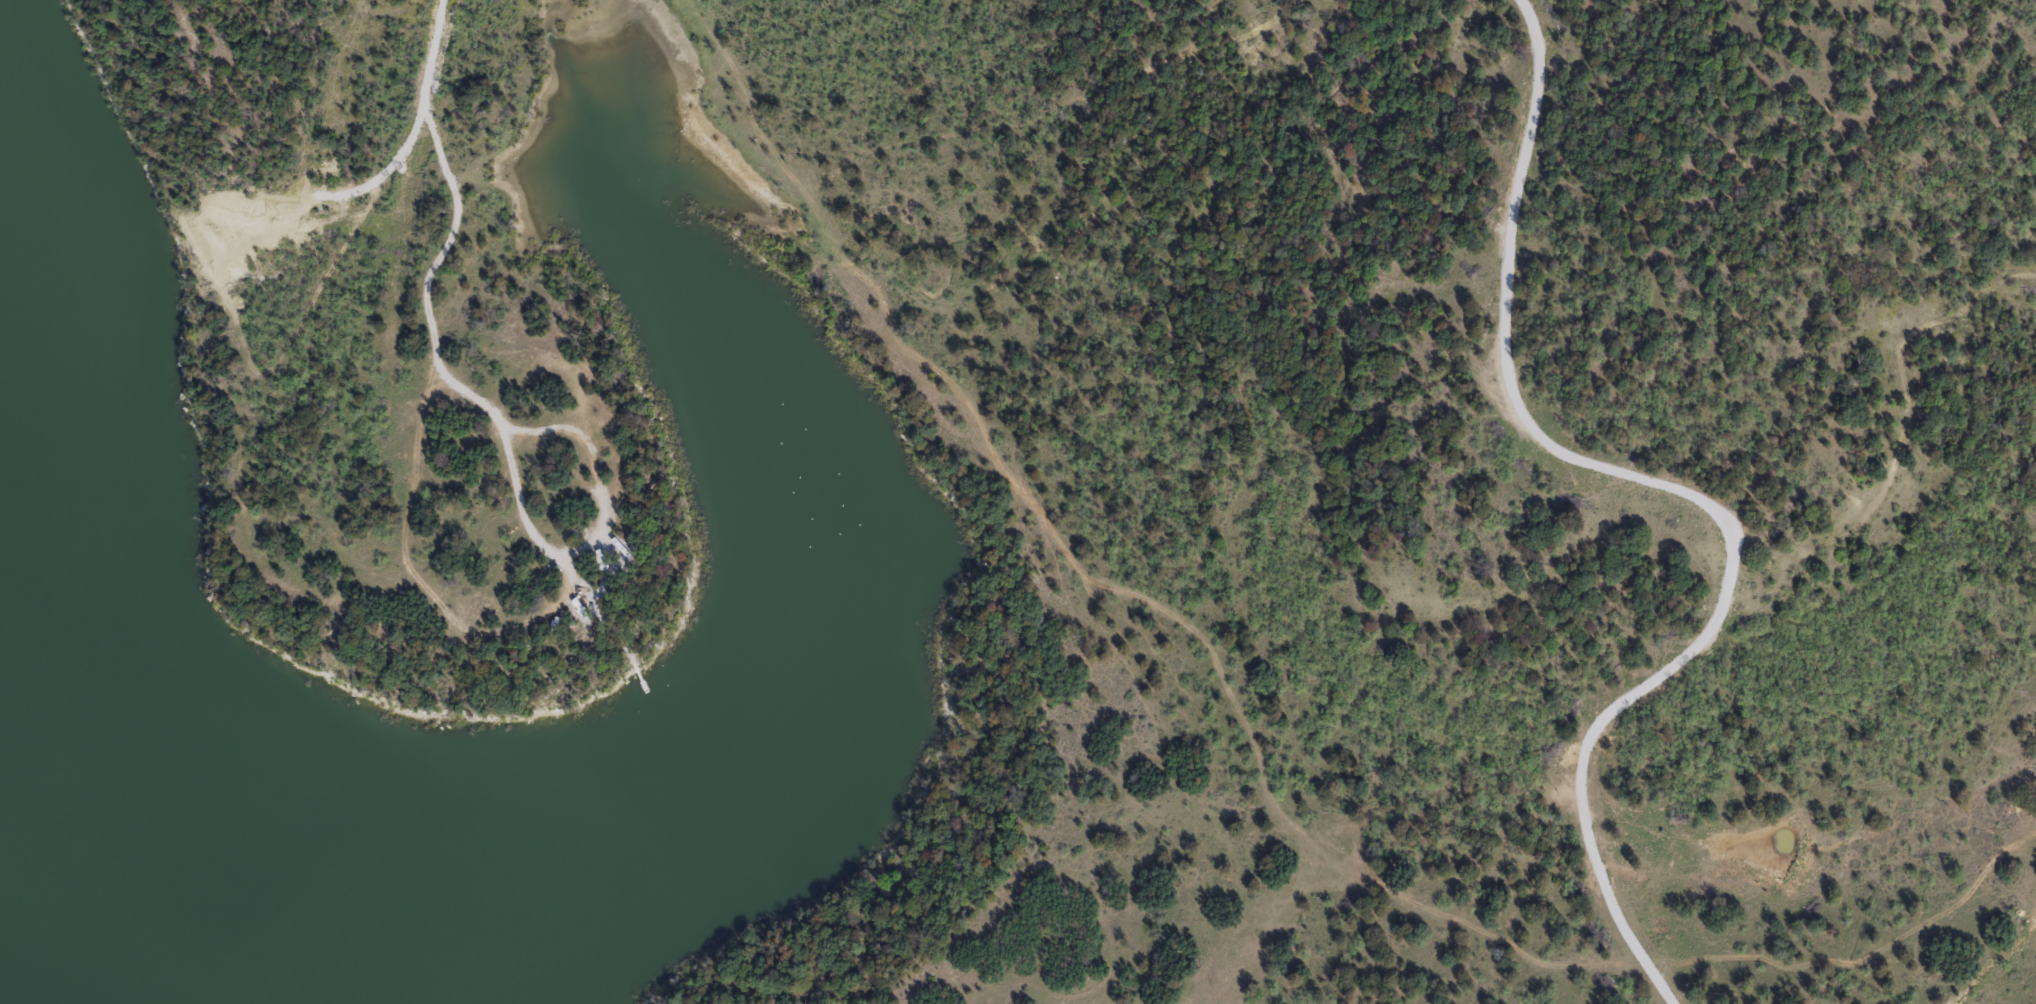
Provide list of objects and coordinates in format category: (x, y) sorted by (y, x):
road: (432, 85)
road: (1243, 725)

